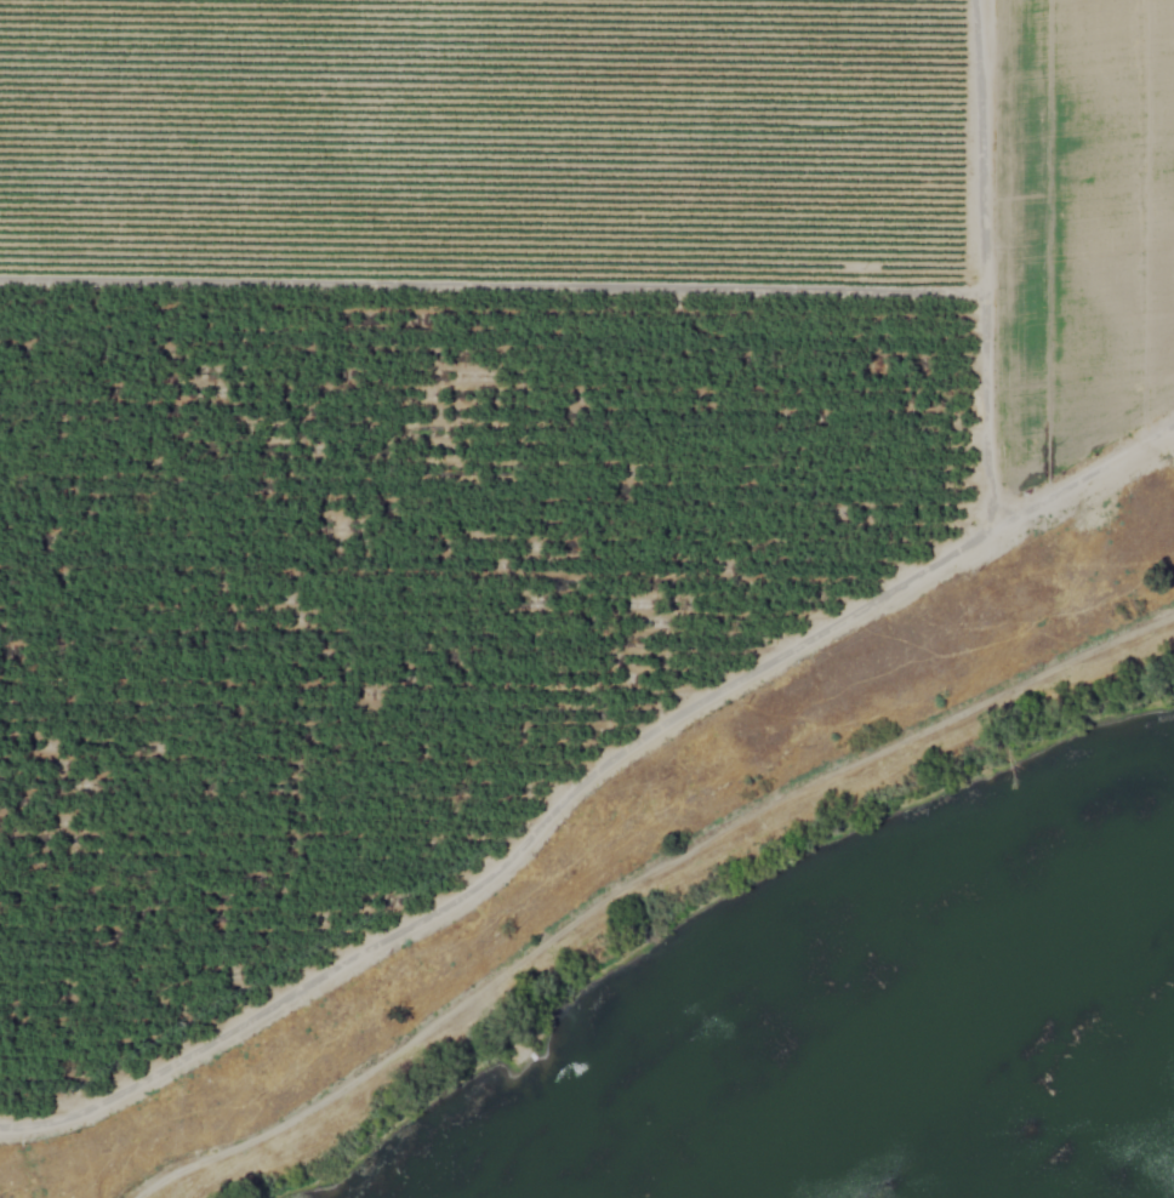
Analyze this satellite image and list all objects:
crop: (486, 416)
road: (638, 879)

